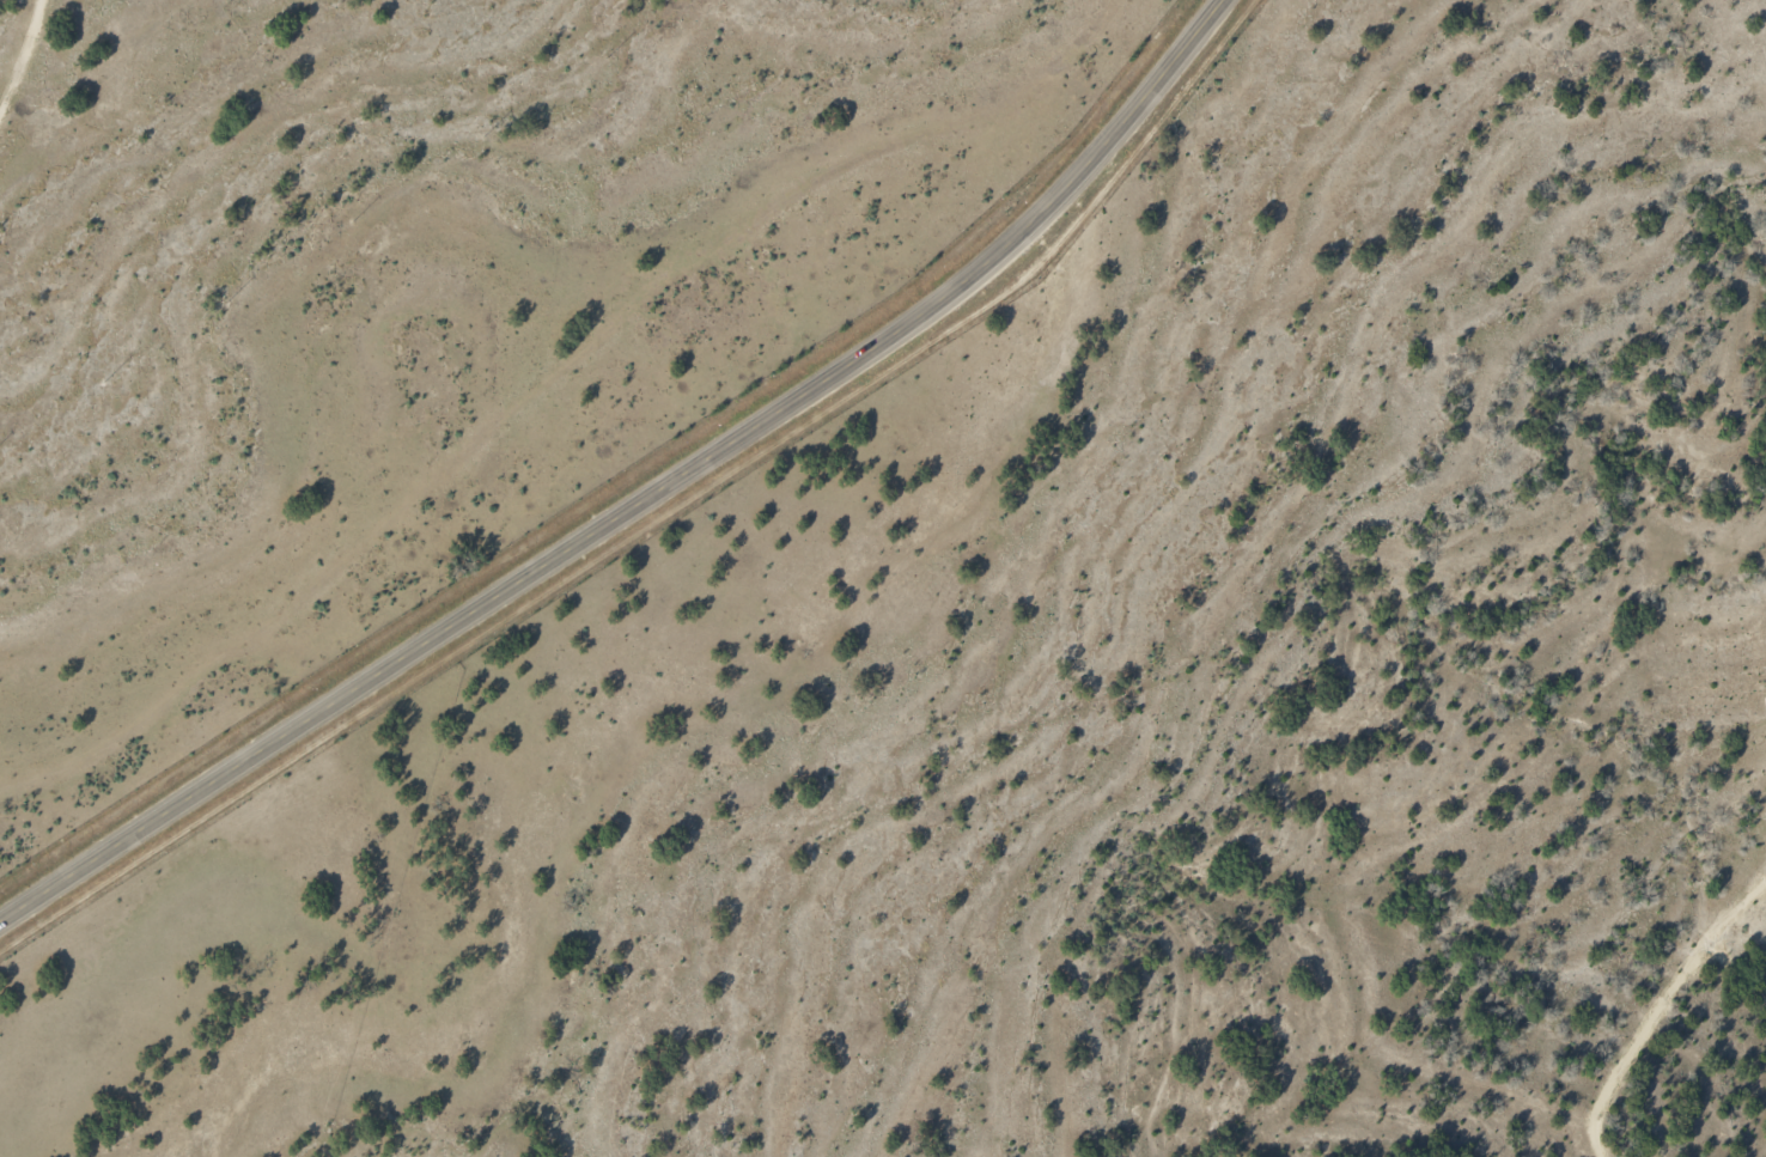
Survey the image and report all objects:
road: (650, 501)
road: (1660, 1011)

